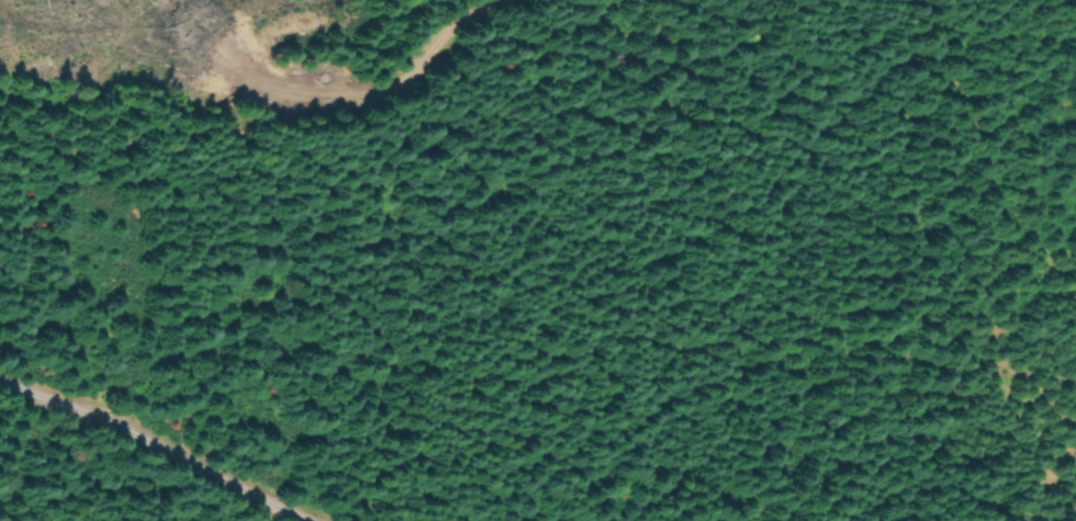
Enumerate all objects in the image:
road: (431, 63)
road: (154, 442)

